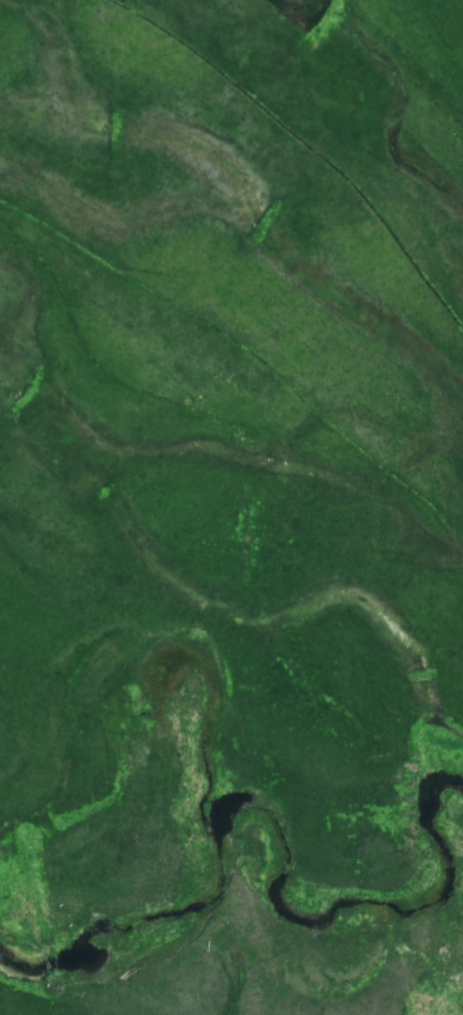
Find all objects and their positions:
river: (287, 844)

